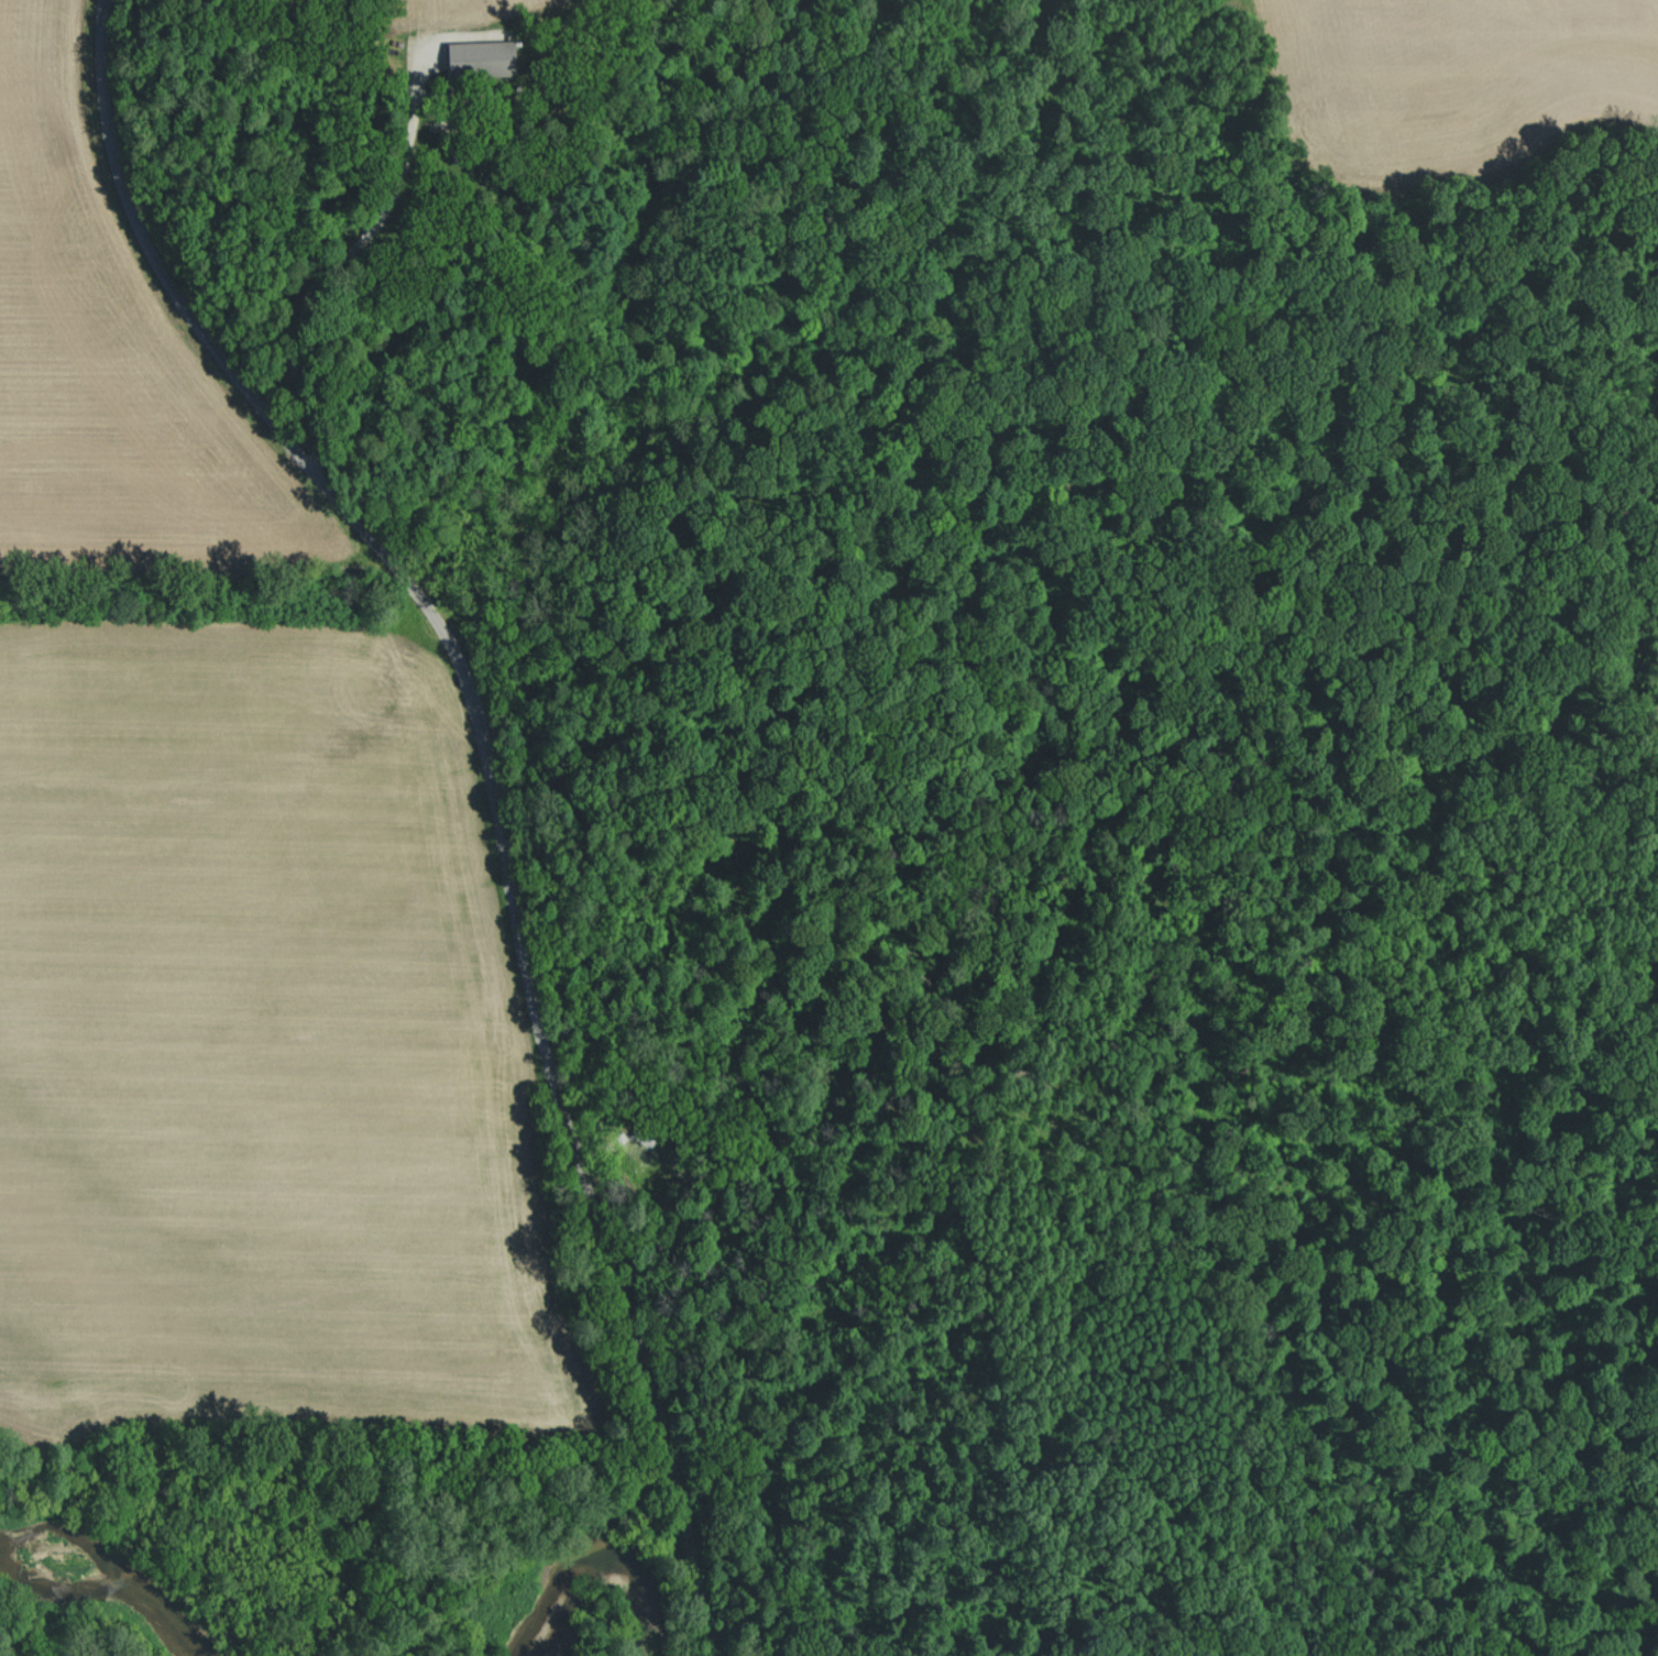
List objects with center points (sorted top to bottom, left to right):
road: (149, 242)
road: (385, 249)
road: (540, 1030)

